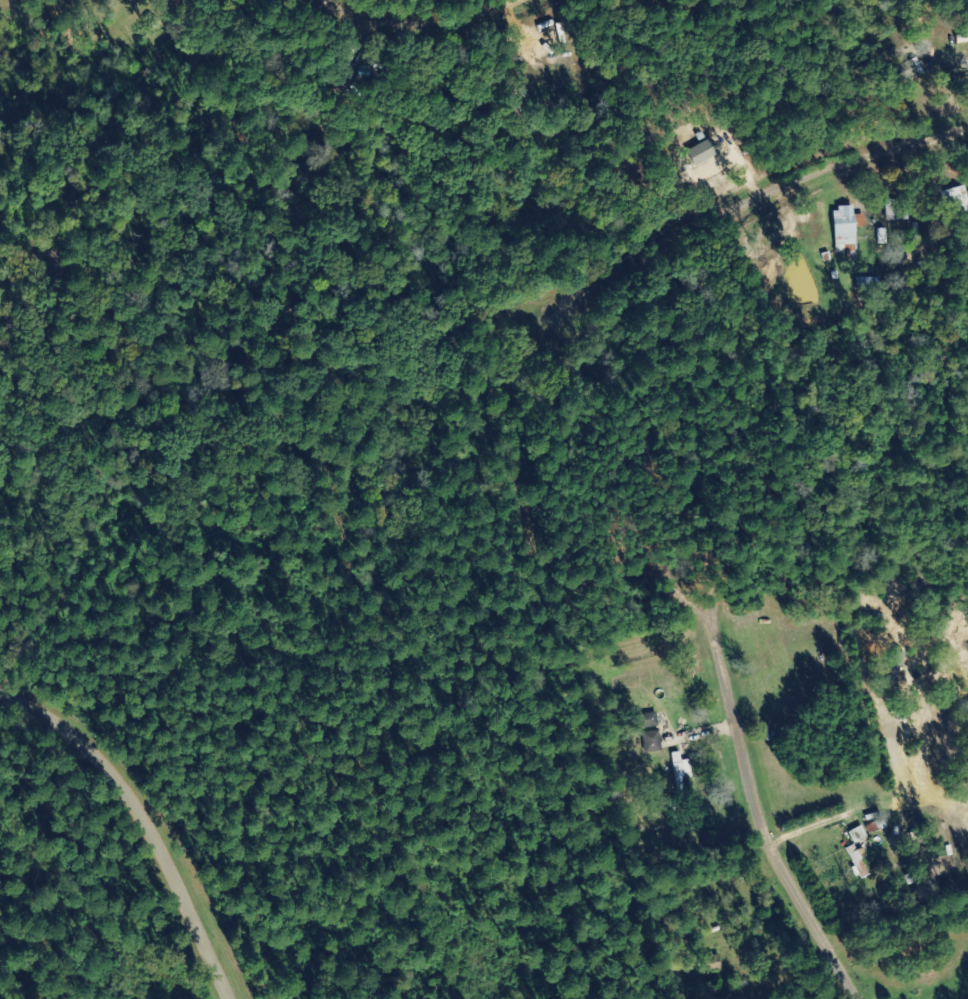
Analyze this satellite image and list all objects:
road: (529, 25)
building: (909, 71)
building: (706, 152)
building: (956, 200)
building: (847, 229)
road: (766, 243)
building: (869, 284)
building: (511, 354)
building: (524, 381)
building: (651, 721)
building: (653, 741)
building: (684, 773)
road: (756, 814)
road: (142, 821)
building: (859, 834)
building: (859, 860)
building: (716, 963)

